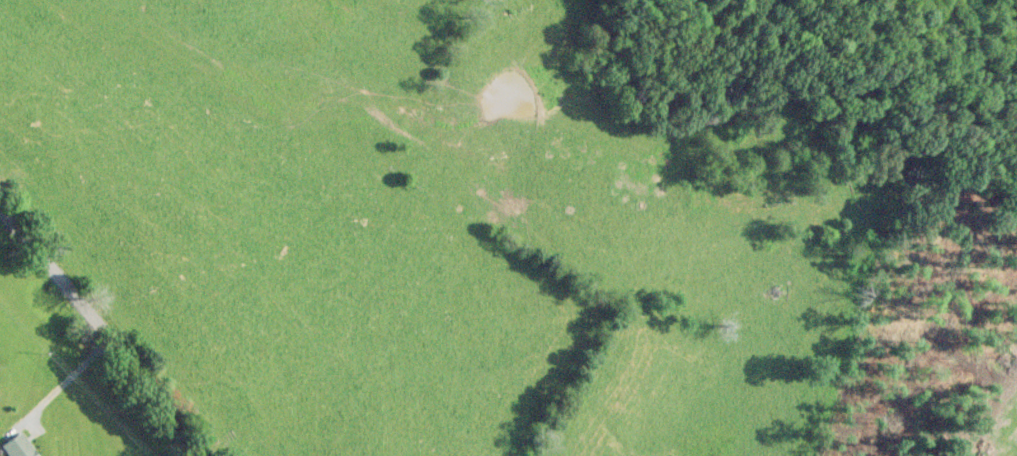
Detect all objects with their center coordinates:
road: (100, 332)
building: (20, 446)

